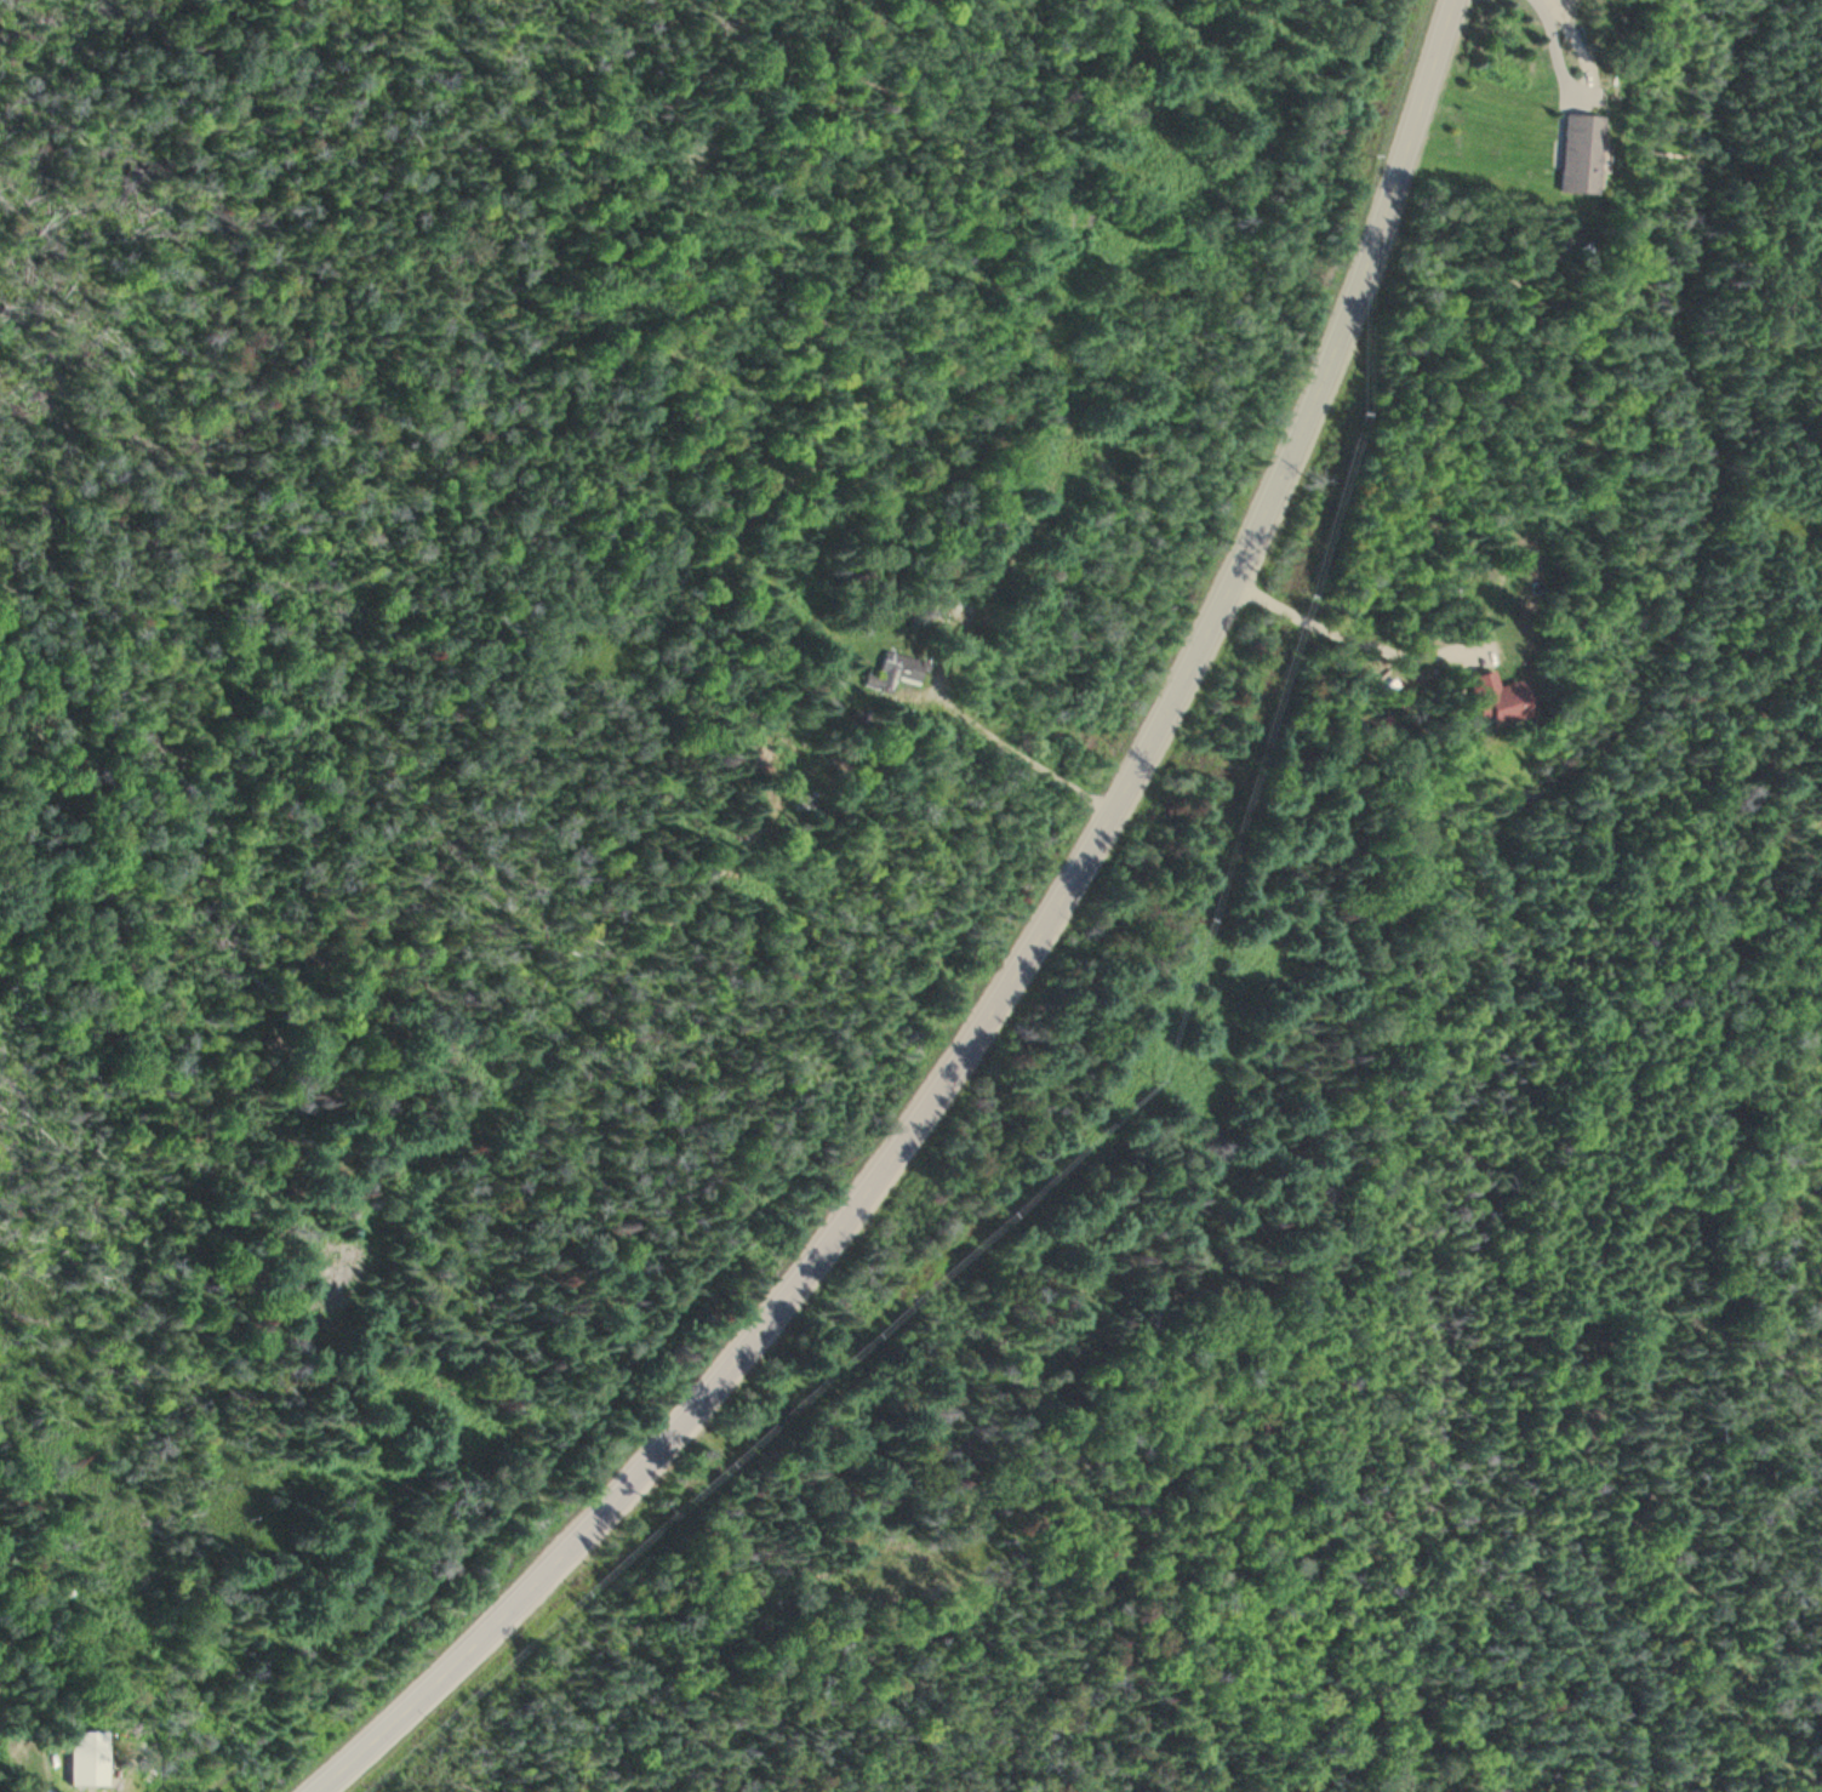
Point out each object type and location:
building: (1575, 154)
building: (959, 613)
building: (889, 673)
building: (1493, 702)
road: (910, 976)
road: (1015, 978)

